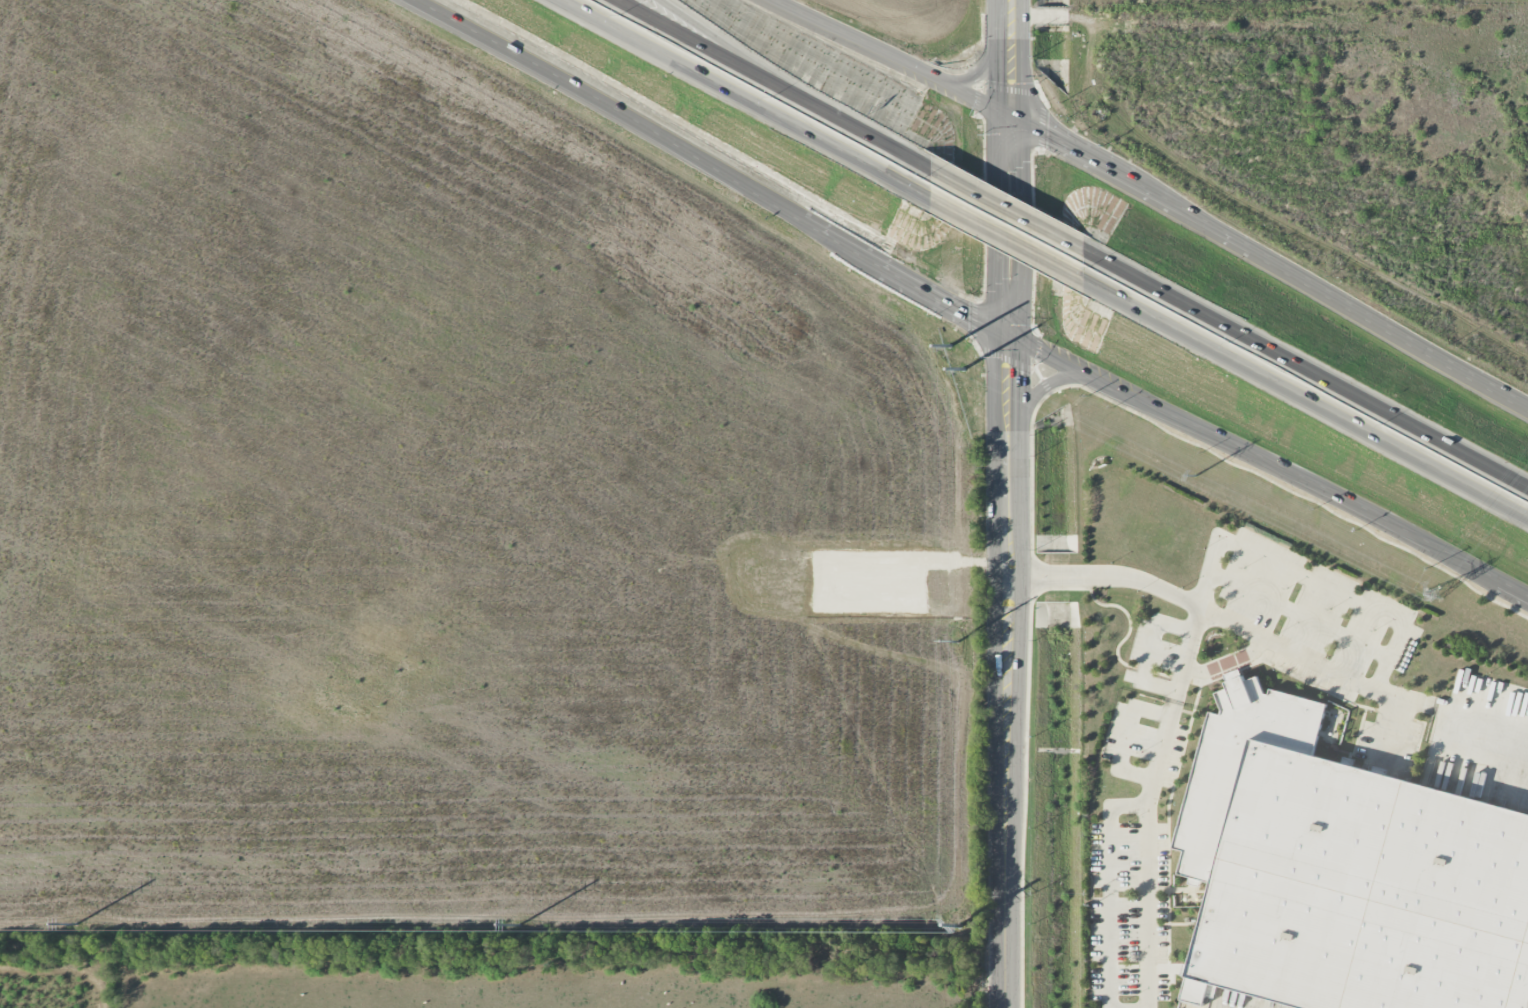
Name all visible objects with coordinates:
road: (1048, 15)
road: (1019, 16)
road: (696, 41)
road: (713, 41)
road: (889, 58)
road: (1008, 60)
road: (745, 100)
traffic signals: (1009, 121)
road: (852, 125)
road: (712, 165)
road: (1007, 208)
road: (1263, 208)
road: (1009, 228)
road: (1008, 240)
road: (1269, 262)
traffic signals: (1010, 335)
power tower: (962, 369)
road: (1305, 369)
road: (1306, 400)
road: (1269, 465)
power tower: (1196, 477)
road: (1253, 553)
power tower: (1438, 594)
road: (1299, 613)
power tower: (958, 643)
road: (1284, 651)
road: (1185, 656)
road: (1008, 671)
road: (1480, 722)
road: (1145, 853)
building: (1345, 873)
road: (1109, 889)
power tower: (76, 927)
power tower: (520, 929)
power tower: (961, 929)

